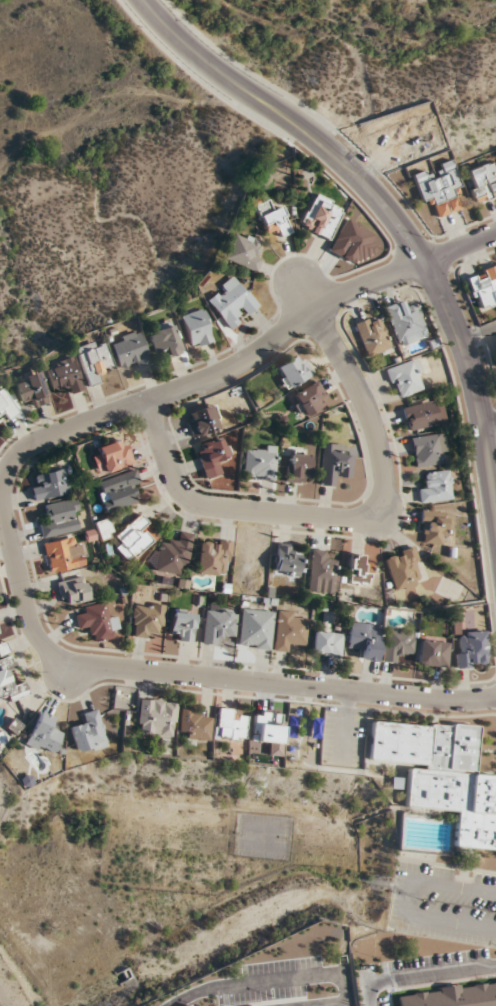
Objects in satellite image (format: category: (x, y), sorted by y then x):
building: (482, 182)
building: (439, 187)
road: (390, 214)
building: (321, 217)
building: (271, 219)
building: (353, 243)
building: (243, 252)
building: (484, 288)
road: (309, 301)
building: (231, 302)
building: (405, 323)
building: (197, 328)
building: (373, 336)
road: (478, 336)
building: (165, 340)
building: (131, 350)
building: (94, 361)
building: (293, 371)
building: (64, 376)
building: (407, 378)
building: (31, 389)
building: (310, 399)
building: (6, 407)
building: (424, 415)
road: (489, 420)
building: (202, 421)
building: (429, 450)
building: (115, 455)
building: (212, 458)
building: (260, 463)
building: (334, 465)
building: (297, 468)
building: (51, 485)
building: (437, 487)
building: (118, 491)
road: (341, 514)
road: (7, 517)
building: (62, 518)
building: (435, 526)
building: (103, 529)
building: (134, 538)
building: (174, 554)
building: (63, 555)
building: (214, 558)
building: (286, 561)
building: (403, 570)
building: (359, 571)
building: (322, 573)
building: (73, 591)
building: (147, 620)
building: (97, 621)
building: (181, 626)
building: (218, 627)
building: (255, 630)
building: (289, 631)
building: (364, 641)
building: (326, 644)
building: (397, 644)
building: (471, 649)
building: (432, 653)
building: (10, 681)
building: (157, 717)
building: (194, 725)
building: (231, 725)
building: (88, 733)
building: (43, 735)
building: (442, 775)
road: (412, 901)
road: (420, 976)
road: (271, 981)
building: (453, 997)

